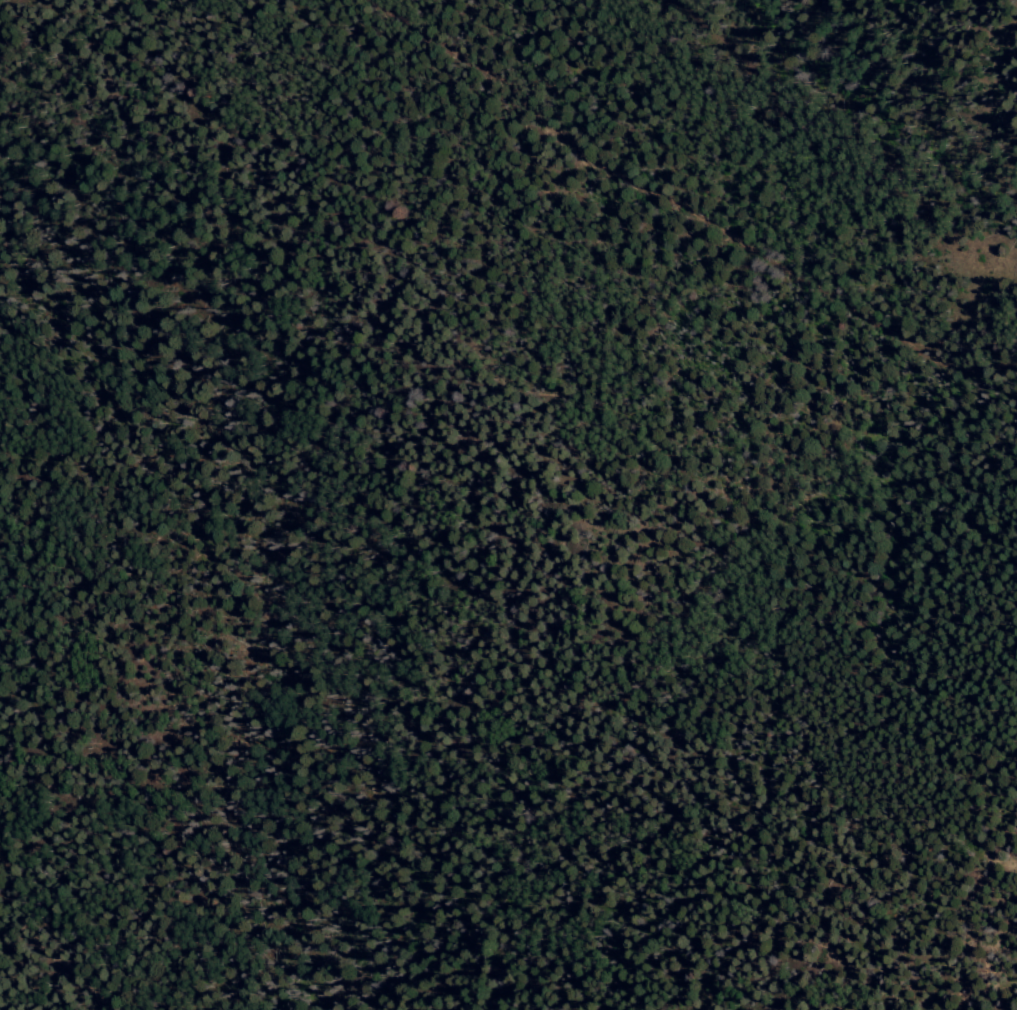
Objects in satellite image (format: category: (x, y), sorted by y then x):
road: (812, 145)
road: (666, 213)
road: (75, 960)

